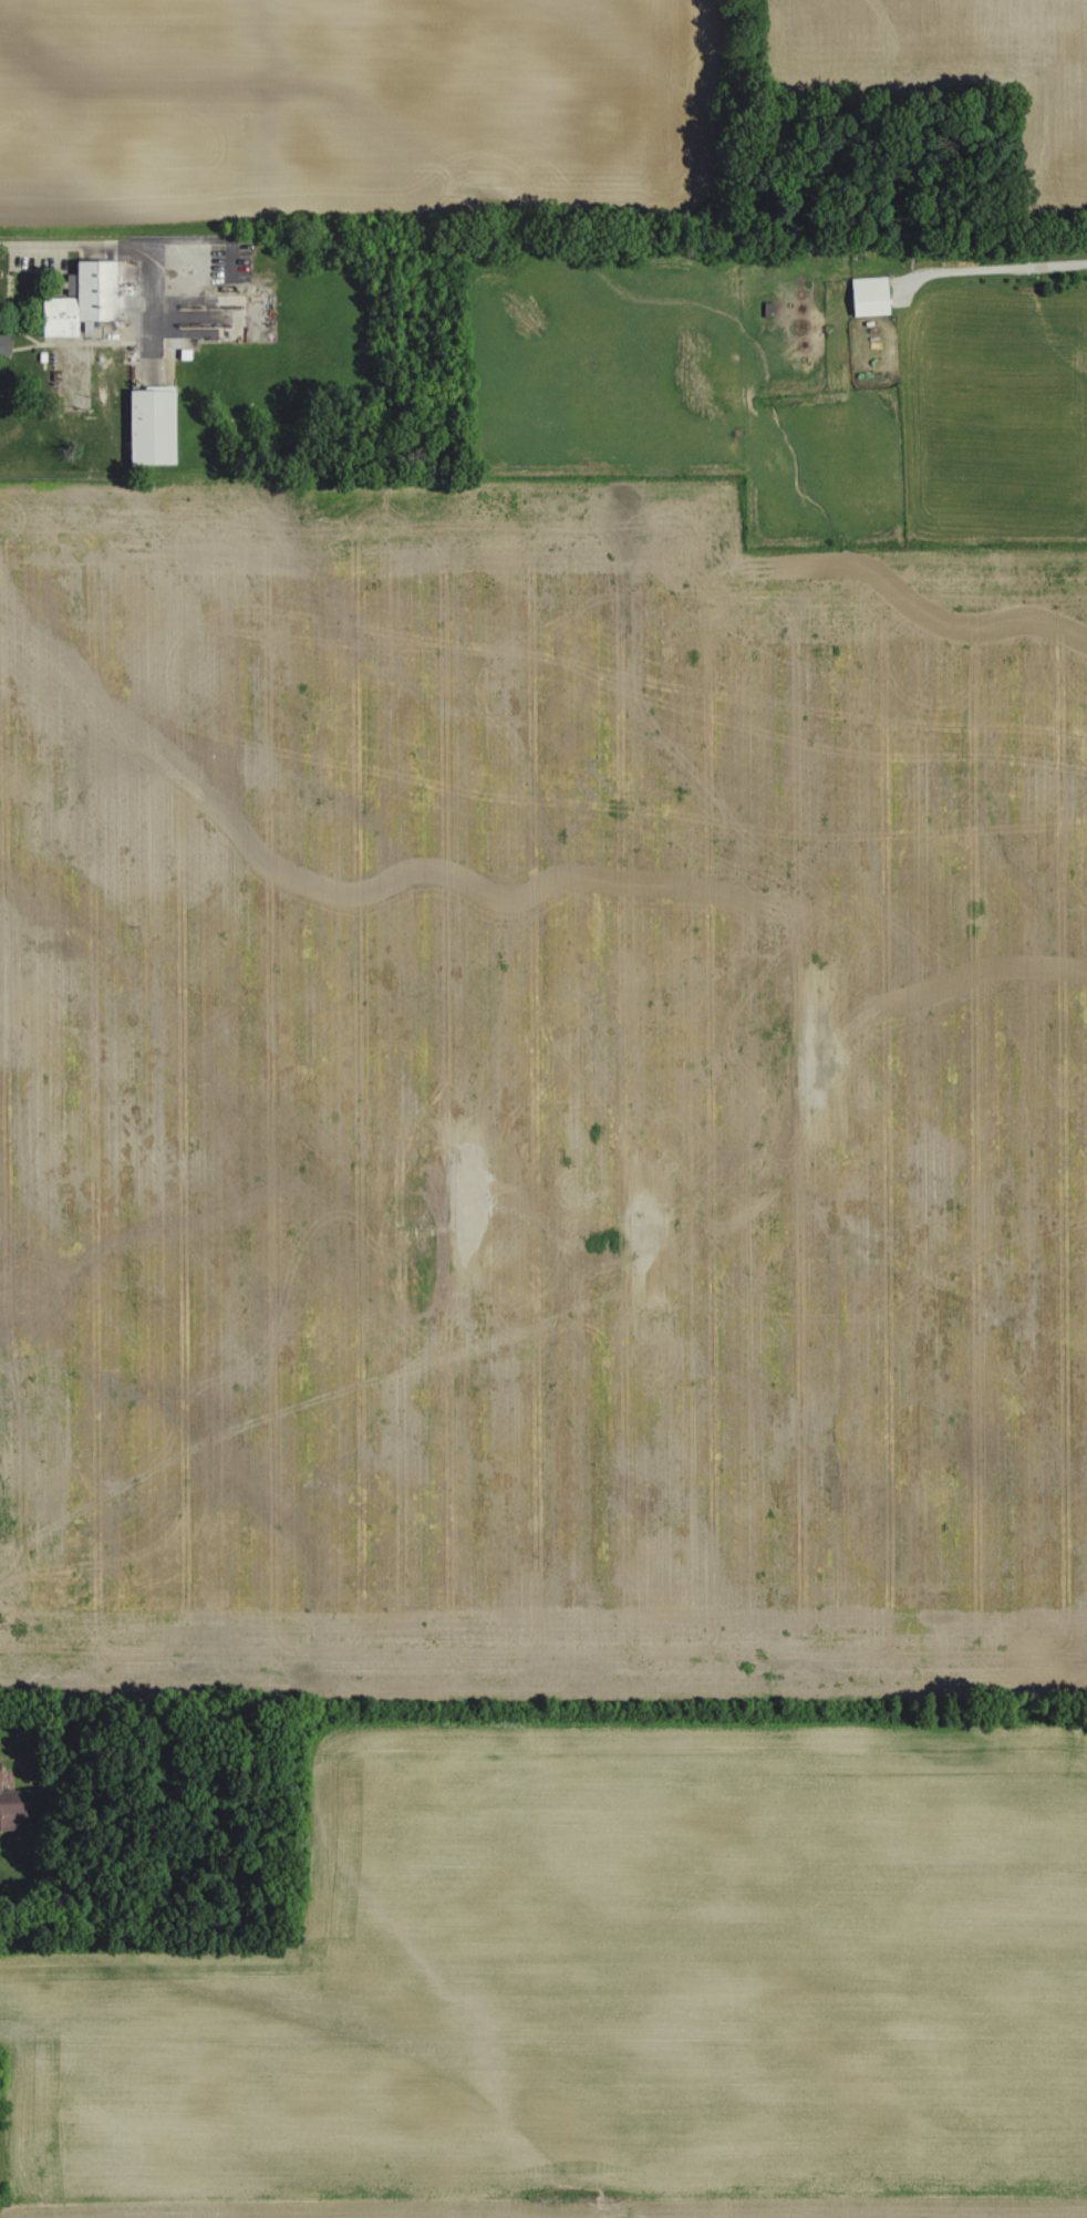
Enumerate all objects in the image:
road: (73, 242)
road: (995, 269)
building: (867, 294)
building: (77, 298)
building: (146, 425)
building: (10, 1806)

